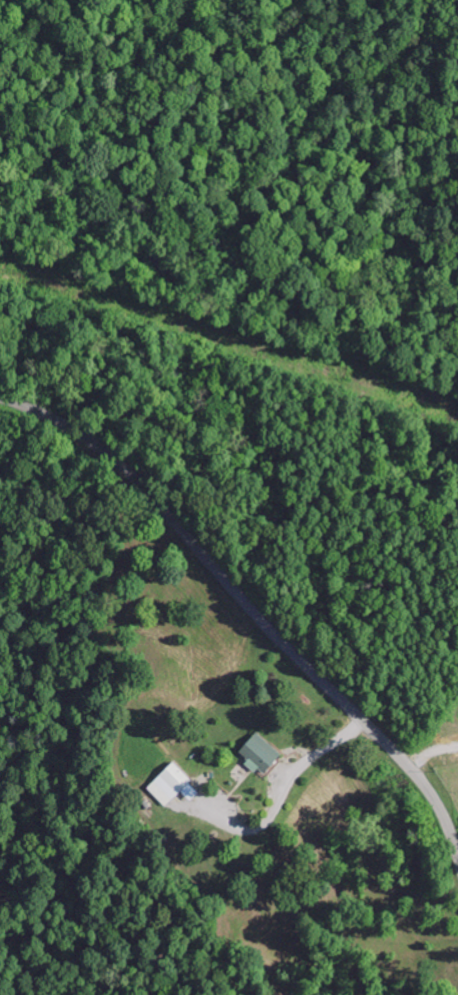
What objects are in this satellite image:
road: (248, 598)
building: (261, 753)
building: (174, 785)

